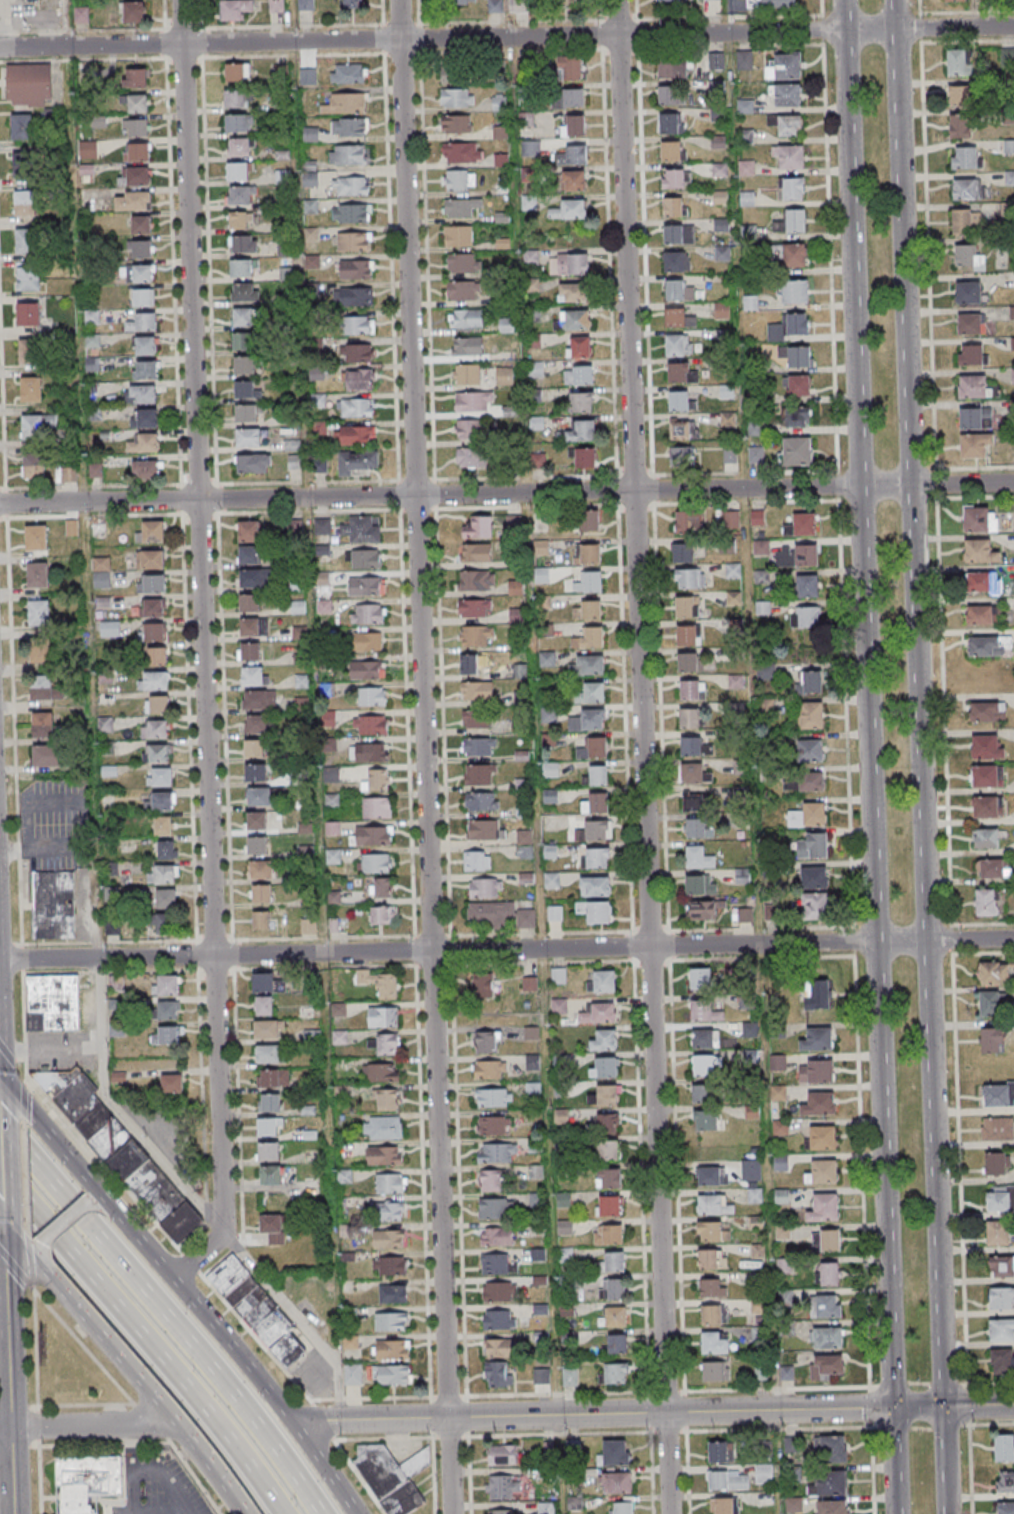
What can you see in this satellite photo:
building: (670, 0)
building: (711, 0)
building: (559, 1)
building: (955, 1)
building: (454, 2)
building: (351, 3)
building: (771, 4)
building: (276, 5)
building: (305, 5)
building: (494, 6)
building: (233, 9)
building: (132, 12)
building: (81, 15)
road: (66, 23)
road: (507, 37)
building: (1007, 58)
building: (716, 62)
building: (957, 62)
building: (570, 68)
building: (673, 68)
building: (784, 68)
building: (237, 72)
building: (346, 73)
building: (456, 75)
building: (135, 79)
building: (29, 85)
building: (668, 95)
building: (960, 95)
building: (787, 96)
building: (573, 97)
building: (235, 98)
building: (457, 98)
building: (499, 102)
building: (136, 104)
building: (347, 104)
building: (745, 106)
building: (717, 114)
building: (670, 122)
building: (239, 123)
building: (456, 124)
building: (573, 125)
building: (789, 126)
building: (959, 126)
building: (22, 127)
building: (136, 128)
building: (349, 128)
building: (718, 141)
building: (1009, 147)
building: (240, 148)
building: (531, 148)
building: (671, 150)
building: (136, 152)
building: (462, 152)
building: (347, 155)
building: (574, 155)
building: (789, 157)
building: (965, 157)
building: (25, 165)
building: (746, 168)
building: (719, 170)
building: (237, 172)
building: (134, 176)
building: (1009, 177)
building: (676, 178)
building: (460, 179)
building: (572, 180)
building: (351, 186)
building: (791, 188)
building: (968, 188)
building: (239, 196)
building: (132, 200)
building: (25, 204)
building: (461, 206)
building: (674, 206)
building: (570, 210)
building: (351, 213)
building: (238, 221)
building: (791, 221)
building: (964, 221)
building: (141, 224)
building: (678, 234)
building: (458, 235)
building: (353, 241)
building: (25, 242)
building: (243, 244)
building: (141, 249)
building: (722, 253)
building: (788, 254)
building: (967, 256)
building: (312, 261)
building: (675, 261)
building: (463, 262)
building: (569, 265)
building: (241, 268)
building: (356, 269)
building: (139, 273)
building: (286, 274)
building: (29, 278)
building: (245, 291)
building: (463, 291)
building: (678, 291)
building: (792, 291)
building: (968, 292)
building: (572, 293)
building: (354, 296)
building: (142, 297)
building: (722, 310)
building: (28, 314)
building: (244, 317)
building: (674, 317)
building: (466, 319)
building: (576, 320)
building: (142, 322)
building: (796, 323)
building: (969, 323)
building: (358, 324)
building: (243, 341)
building: (145, 345)
building: (678, 345)
building: (463, 346)
building: (578, 346)
building: (28, 351)
building: (357, 352)
building: (972, 355)
building: (796, 356)
building: (245, 365)
building: (535, 369)
building: (145, 370)
building: (680, 373)
building: (467, 374)
building: (578, 374)
building: (357, 379)
building: (796, 386)
building: (974, 386)
building: (31, 389)
building: (245, 390)
building: (142, 393)
building: (680, 400)
building: (473, 401)
building: (582, 402)
building: (356, 407)
building: (246, 414)
building: (797, 417)
building: (144, 418)
building: (976, 418)
building: (728, 419)
building: (36, 425)
building: (468, 430)
building: (683, 430)
building: (579, 432)
building: (354, 435)
building: (249, 438)
building: (144, 443)
building: (975, 445)
building: (797, 452)
building: (756, 455)
building: (729, 456)
building: (681, 457)
building: (471, 458)
building: (583, 459)
building: (538, 461)
building: (356, 462)
building: (253, 463)
building: (33, 468)
building: (146, 469)
road: (935, 469)
building: (96, 471)
road: (507, 493)
building: (730, 519)
building: (589, 520)
building: (979, 520)
building: (688, 522)
building: (802, 524)
building: (322, 525)
building: (294, 527)
building: (479, 527)
building: (97, 531)
building: (248, 531)
building: (151, 532)
building: (35, 538)
building: (325, 550)
building: (980, 551)
building: (476, 552)
building: (683, 552)
building: (248, 554)
building: (587, 554)
building: (797, 555)
building: (365, 558)
building: (149, 559)
building: (733, 570)
building: (101, 572)
building: (37, 574)
building: (689, 578)
building: (251, 579)
building: (323, 579)
building: (476, 580)
building: (589, 582)
building: (983, 582)
building: (151, 583)
building: (807, 585)
building: (365, 586)
building: (516, 587)
building: (249, 602)
building: (686, 606)
building: (297, 607)
building: (152, 608)
building: (474, 608)
building: (588, 610)
building: (39, 612)
building: (367, 613)
building: (983, 614)
building: (804, 617)
building: (253, 626)
building: (109, 628)
building: (151, 632)
building: (687, 635)
building: (475, 637)
building: (589, 638)
building: (368, 641)
building: (989, 646)
road: (202, 650)
building: (40, 651)
building: (249, 651)
building: (157, 655)
building: (688, 662)
building: (469, 665)
building: (588, 665)
building: (367, 669)
building: (254, 675)
building: (153, 680)
building: (811, 682)
building: (41, 687)
building: (476, 690)
building: (691, 690)
building: (591, 693)
building: (372, 695)
building: (259, 699)
road: (918, 702)
road: (866, 703)
building: (160, 704)
building: (987, 711)
building: (810, 715)
building: (689, 718)
building: (475, 719)
building: (588, 720)
building: (42, 724)
building: (255, 724)
building: (370, 724)
building: (154, 729)
building: (479, 746)
building: (691, 746)
building: (986, 747)
building: (594, 748)
building: (253, 749)
building: (810, 750)
building: (368, 752)
building: (156, 753)
building: (47, 755)
road: (642, 756)
road: (424, 757)
building: (740, 767)
building: (255, 773)
building: (694, 773)
building: (480, 774)
building: (598, 775)
building: (988, 775)
building: (159, 776)
building: (378, 779)
building: (811, 781)
building: (259, 798)
building: (160, 801)
building: (481, 801)
building: (595, 802)
building: (693, 802)
road: (92, 807)
building: (376, 807)
building: (987, 807)
building: (809, 815)
building: (256, 822)
building: (163, 825)
building: (695, 828)
building: (485, 829)
building: (594, 831)
building: (370, 835)
building: (985, 838)
building: (813, 845)
building: (257, 846)
building: (162, 849)
building: (698, 857)
building: (597, 858)
building: (476, 860)
building: (376, 863)
building: (993, 868)
building: (261, 869)
building: (162, 873)
building: (814, 878)
building: (552, 880)
building: (699, 884)
building: (594, 885)
building: (379, 888)
building: (485, 888)
building: (261, 893)
building: (166, 898)
building: (986, 902)
building: (54, 905)
building: (815, 906)
building: (701, 909)
building: (595, 911)
building: (555, 913)
building: (499, 914)
building: (380, 915)
building: (745, 915)
building: (260, 919)
building: (164, 924)
building: (308, 926)
road: (506, 949)
building: (993, 972)
building: (559, 976)
building: (700, 979)
building: (601, 981)
building: (380, 982)
building: (267, 983)
building: (482, 985)
building: (166, 986)
building: (817, 994)
building: (52, 1002)
building: (990, 1003)
building: (263, 1005)
building: (165, 1011)
building: (701, 1011)
building: (599, 1013)
building: (383, 1016)
building: (268, 1029)
building: (165, 1035)
building: (703, 1038)
building: (818, 1039)
building: (604, 1040)
building: (992, 1040)
building: (484, 1042)
building: (387, 1043)
building: (270, 1054)
building: (704, 1065)
building: (604, 1067)
building: (489, 1069)
building: (815, 1071)
building: (382, 1072)
building: (275, 1079)
building: (171, 1083)
building: (703, 1093)
building: (606, 1094)
building: (998, 1094)
building: (492, 1097)
building: (385, 1099)
building: (269, 1104)
building: (819, 1104)
building: (706, 1120)
building: (605, 1124)
building: (493, 1125)
building: (384, 1127)
building: (268, 1128)
building: (997, 1128)
building: (822, 1137)
road: (56, 1143)
building: (608, 1150)
building: (270, 1152)
building: (496, 1153)
building: (122, 1154)
building: (384, 1155)
building: (781, 1162)
building: (995, 1163)
building: (750, 1170)
building: (823, 1172)
building: (712, 1175)
building: (271, 1176)
road: (0, 1177)
building: (609, 1178)
building: (489, 1180)
building: (390, 1183)
building: (1000, 1198)
building: (714, 1204)
building: (608, 1205)
road: (100, 1207)
building: (823, 1207)
building: (495, 1208)
building: (390, 1210)
traffic signals: (2, 1223)
road: (67, 1224)
road: (960, 1227)
building: (273, 1228)
building: (712, 1231)
building: (998, 1233)
building: (608, 1234)
building: (496, 1236)
building: (388, 1238)
building: (827, 1239)
road: (20, 1244)
road: (43, 1256)
road: (1, 1257)
building: (712, 1259)
building: (612, 1261)
building: (497, 1264)
building: (389, 1265)
building: (1001, 1266)
building: (829, 1273)
building: (712, 1287)
building: (614, 1288)
building: (499, 1291)
building: (393, 1293)
building: (1000, 1298)
building: (826, 1305)
road: (5, 1309)
road: (164, 1314)
building: (259, 1314)
building: (711, 1314)
building: (616, 1316)
road: (296, 1319)
building: (498, 1319)
building: (391, 1321)
road: (3, 1324)
building: (1001, 1330)
building: (825, 1337)
road: (143, 1339)
building: (349, 1342)
building: (715, 1342)
building: (617, 1343)
building: (499, 1347)
building: (391, 1350)
road: (238, 1357)
building: (1002, 1361)
building: (826, 1366)
building: (715, 1371)
building: (497, 1373)
building: (613, 1373)
building: (352, 1375)
building: (391, 1375)
building: (541, 1376)
building: (569, 1377)
road: (112, 1380)
road: (144, 1389)
road: (978, 1405)
road: (917, 1406)
traffic signals: (943, 1406)
traffic signals: (892, 1407)
road: (590, 1414)
road: (86, 1425)
building: (791, 1444)
building: (833, 1448)
building: (1004, 1448)
building: (718, 1451)
building: (613, 1452)
building: (501, 1455)
road: (893, 1460)
road: (944, 1460)
road: (10, 1471)
building: (763, 1473)
road: (150, 1474)
building: (393, 1477)
building: (728, 1480)
building: (1005, 1481)
building: (83, 1482)
building: (615, 1482)
building: (829, 1483)
parking lot: (156, 1485)
building: (503, 1487)
building: (794, 1504)
building: (725, 1505)
building: (833, 1507)
building: (1005, 1507)
building: (546, 1508)
building: (620, 1508)
building: (504, 1511)

